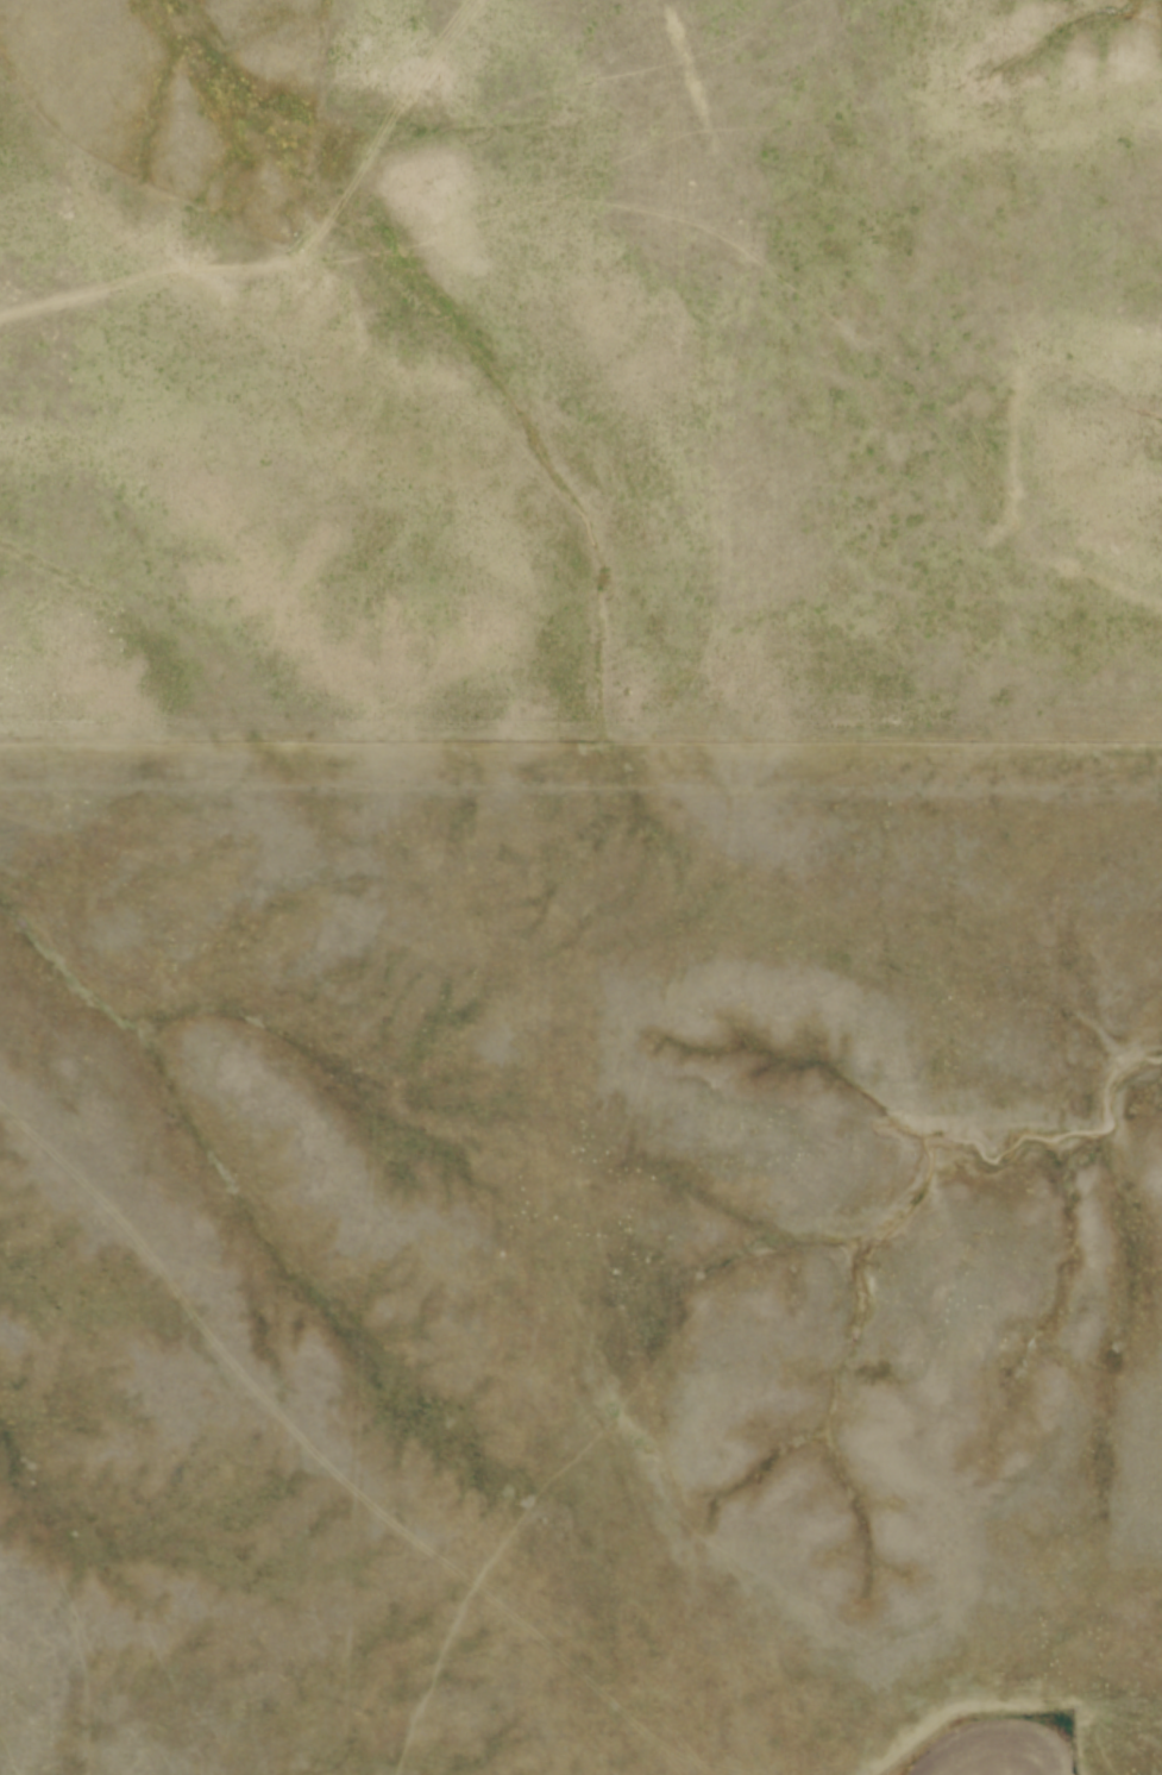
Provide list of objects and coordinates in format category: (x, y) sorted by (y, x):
crop: (995, 1750)

